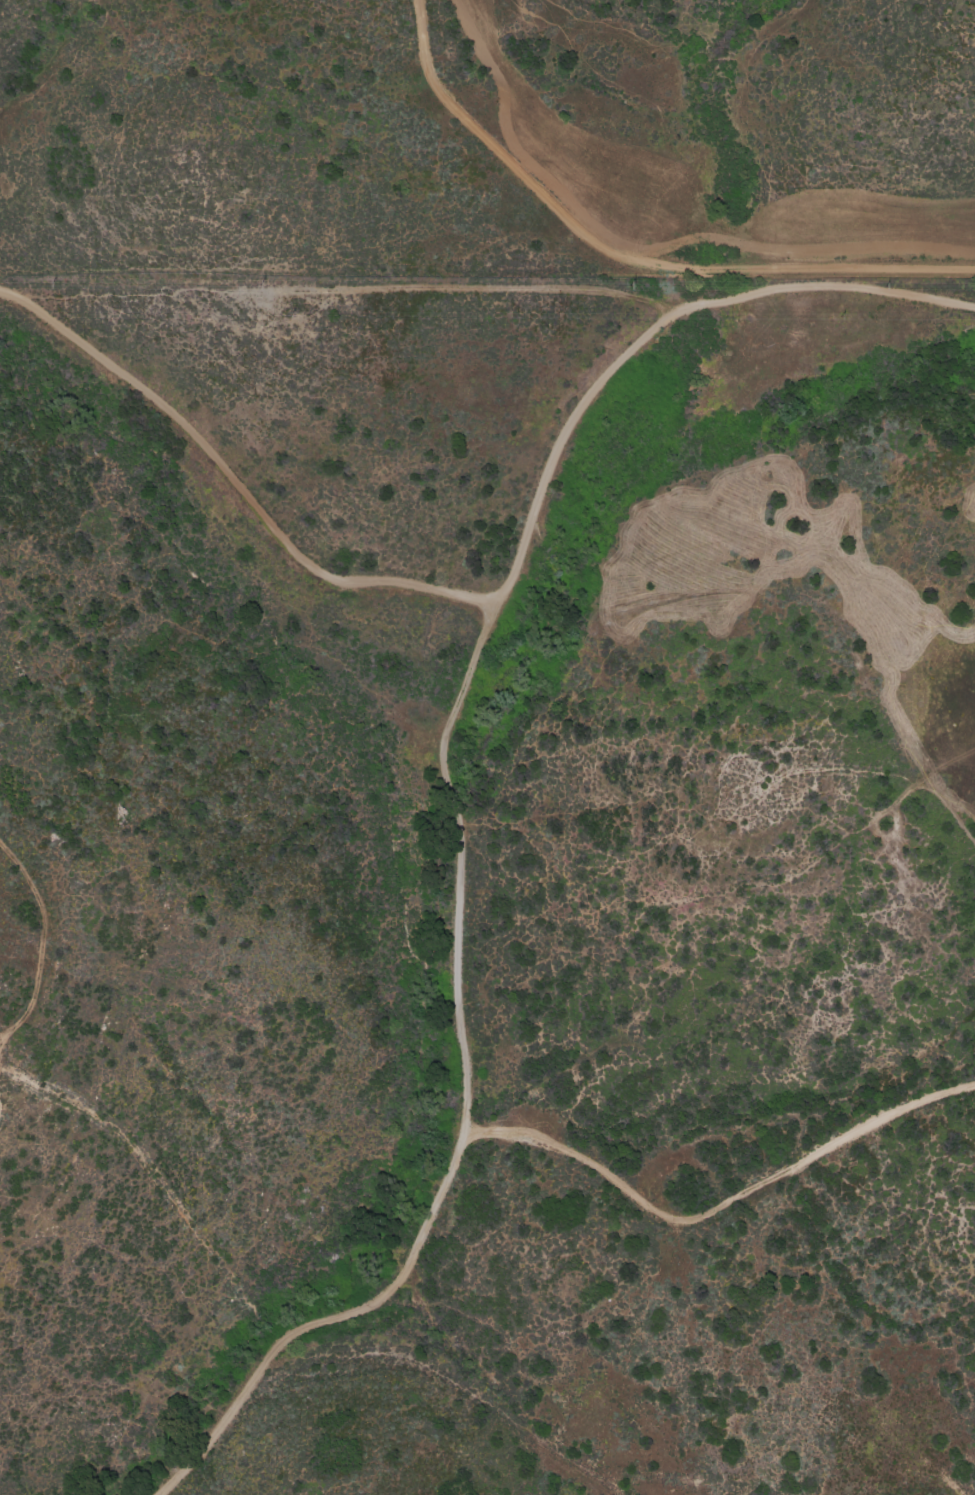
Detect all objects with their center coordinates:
road: (624, 259)
road: (447, 781)

